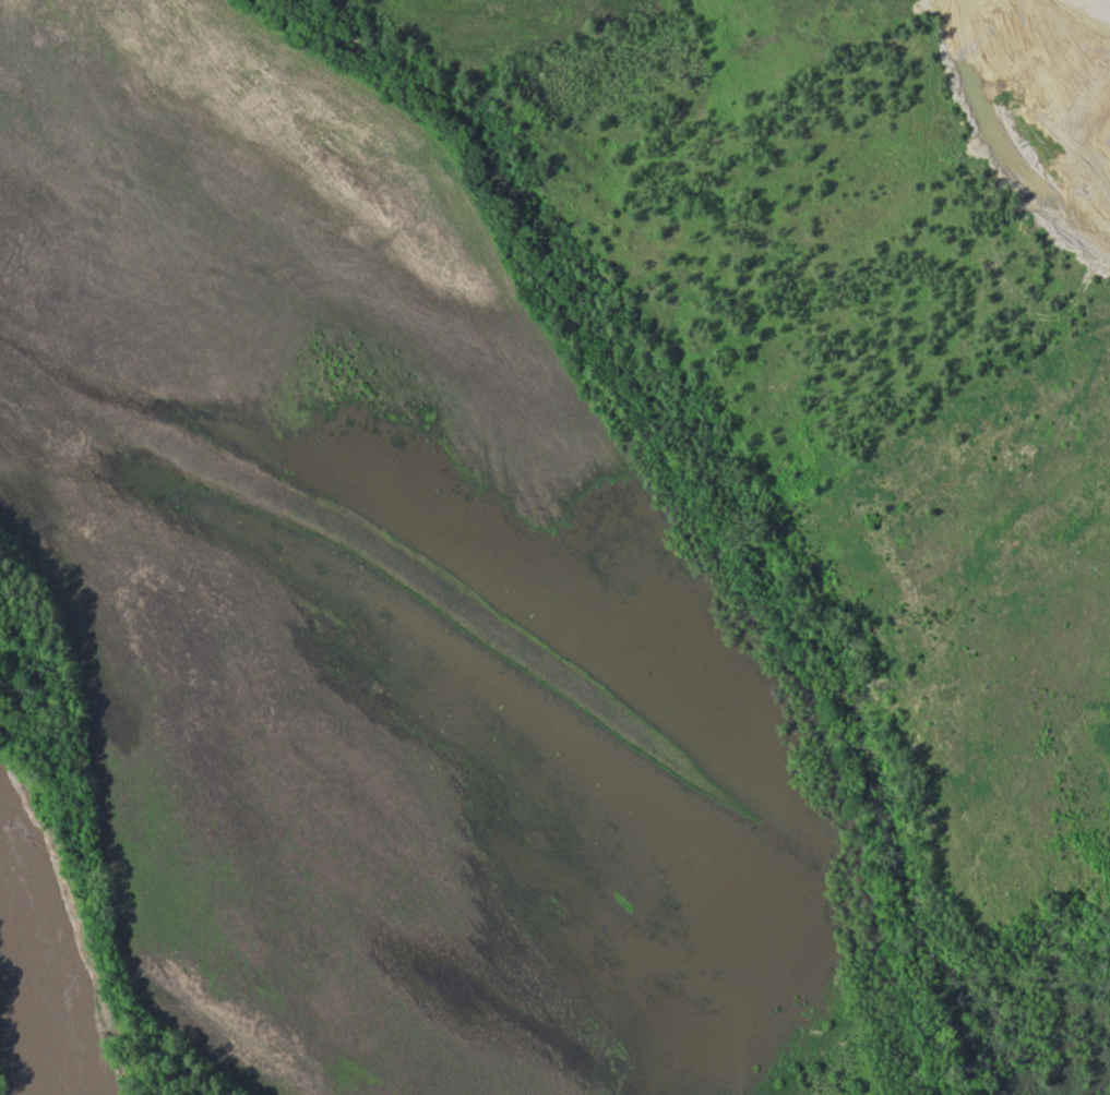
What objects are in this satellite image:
river: (4, 1056)

